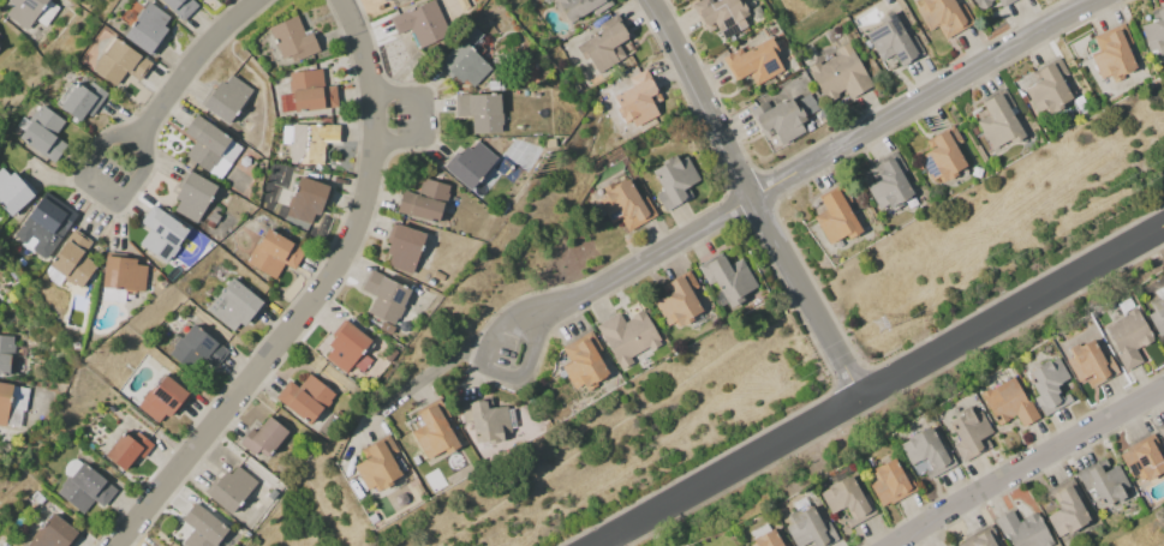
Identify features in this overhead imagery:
building: (381, 0)
building: (979, 2)
building: (1002, 2)
building: (178, 6)
building: (579, 7)
building: (20, 11)
building: (941, 14)
building: (718, 16)
building: (419, 22)
building: (145, 28)
building: (289, 38)
building: (890, 38)
building: (0, 42)
building: (601, 46)
building: (1111, 53)
building: (465, 58)
building: (118, 61)
building: (752, 61)
road: (193, 65)
building: (837, 74)
building: (1049, 86)
building: (308, 90)
road: (929, 96)
road: (704, 97)
building: (77, 98)
building: (225, 98)
building: (633, 98)
building: (478, 110)
road: (420, 118)
building: (777, 119)
building: (996, 120)
building: (42, 133)
building: (309, 142)
building: (208, 146)
building: (941, 154)
building: (468, 163)
building: (671, 180)
building: (885, 181)
building: (11, 191)
road: (100, 191)
building: (191, 197)
building: (304, 199)
building: (422, 200)
building: (623, 205)
building: (834, 216)
building: (41, 224)
building: (159, 232)
building: (401, 248)
building: (271, 253)
building: (71, 259)
road: (645, 259)
building: (119, 277)
building: (728, 278)
road: (314, 294)
building: (383, 298)
road: (807, 298)
building: (676, 300)
building: (231, 305)
road: (1013, 314)
power tower: (879, 324)
building: (626, 336)
building: (1126, 337)
building: (193, 347)
building: (346, 348)
building: (4, 354)
building: (581, 361)
building: (1088, 364)
road: (490, 366)
road: (429, 370)
building: (1046, 384)
building: (303, 397)
building: (160, 400)
building: (1005, 402)
building: (11, 403)
building: (483, 420)
building: (431, 432)
building: (967, 432)
building: (1160, 432)
building: (262, 438)
building: (125, 448)
building: (924, 452)
building: (1141, 458)
building: (377, 463)
road: (1023, 463)
road: (730, 473)
building: (1102, 480)
building: (889, 482)
building: (83, 487)
building: (229, 487)
building: (844, 499)
building: (1064, 508)
building: (201, 528)
building: (807, 529)
building: (1021, 529)
building: (50, 533)
building: (765, 538)

